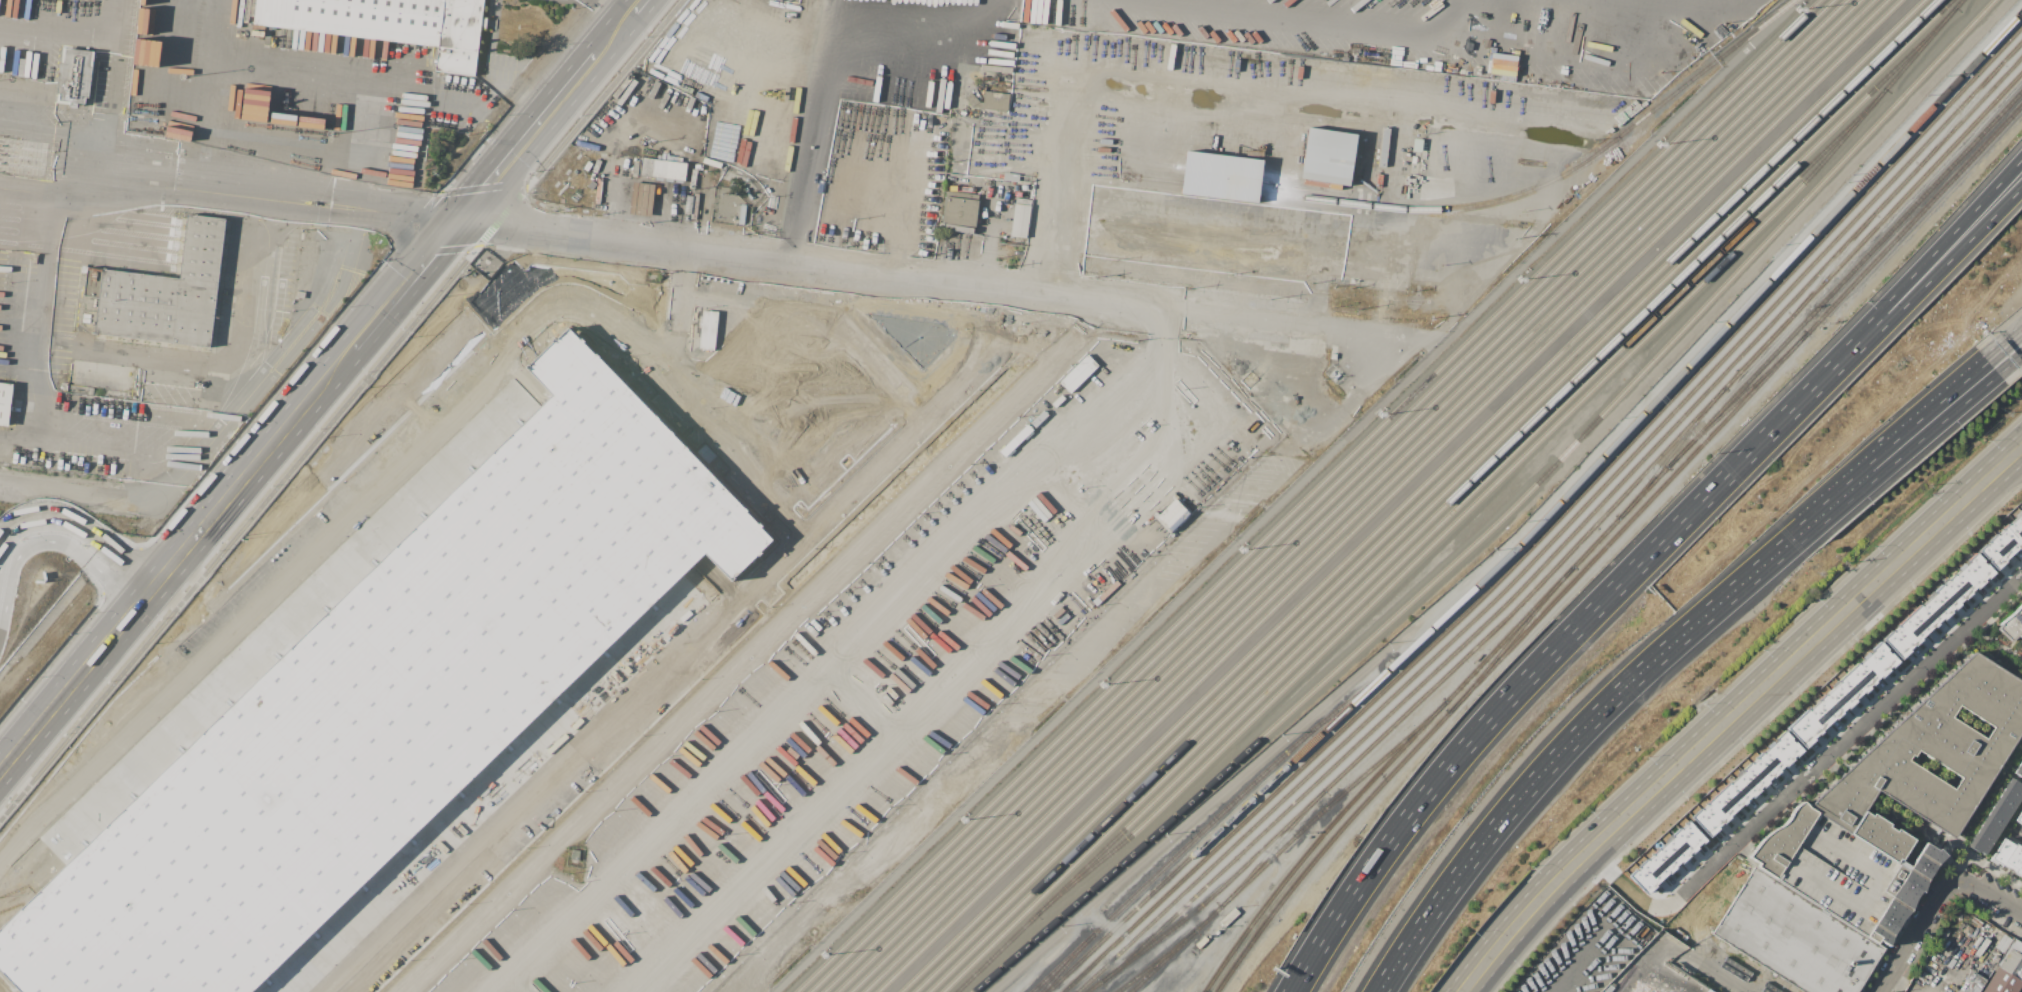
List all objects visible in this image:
road: (614, 9)
building: (357, 18)
road: (616, 30)
road: (55, 31)
road: (1068, 34)
building: (459, 36)
building: (75, 75)
road: (288, 76)
road: (817, 81)
road: (1709, 84)
road: (1275, 86)
road: (519, 87)
road: (606, 90)
road: (1679, 97)
building: (989, 101)
road: (1642, 115)
road: (48, 133)
road: (527, 136)
building: (1327, 156)
building: (663, 168)
building: (1220, 176)
building: (1011, 177)
road: (1062, 179)
road: (158, 180)
road: (485, 186)
road: (642, 194)
building: (642, 198)
railway: (1495, 199)
road: (615, 205)
road: (391, 206)
building: (960, 208)
road: (668, 210)
road: (799, 210)
traffic signals: (467, 214)
road: (503, 214)
railway: (1913, 217)
building: (1020, 220)
road: (412, 222)
road: (77, 232)
road: (430, 251)
road: (896, 271)
railway: (1844, 277)
road: (1904, 281)
building: (165, 293)
road: (1908, 300)
road: (391, 301)
road: (673, 328)
road: (828, 328)
building: (707, 329)
road: (1385, 332)
road: (2004, 345)
road: (2009, 363)
road: (816, 372)
building: (1077, 373)
road: (772, 383)
parking lot: (781, 399)
railway: (1736, 399)
building: (5, 402)
road: (736, 405)
road: (1929, 414)
road: (228, 421)
road: (1935, 421)
railway: (1710, 434)
road: (713, 439)
road: (836, 451)
railway: (1671, 453)
railway: (1509, 467)
road: (239, 480)
railway: (1642, 492)
railway: (1306, 495)
railway: (1346, 495)
railway: (1373, 495)
railway: (1387, 495)
railway: (1423, 495)
railway: (1437, 495)
railway: (1320, 496)
railway: (1333, 496)
railway: (1360, 496)
road: (1399, 496)
railway: (1410, 496)
road: (1838, 498)
railway: (1448, 499)
railway: (1547, 514)
building: (1171, 515)
railway: (1500, 516)
railway: (1555, 522)
railway: (1561, 531)
railway: (1574, 531)
road: (238, 533)
road: (73, 538)
road: (314, 540)
railway: (1420, 540)
railway: (1595, 542)
building: (2003, 542)
railway: (1571, 550)
road: (1197, 581)
building: (1936, 605)
road: (185, 609)
railway: (1531, 623)
building: (2013, 624)
railway: (1514, 627)
railway: (1510, 639)
road: (1995, 645)
road: (690, 649)
road: (841, 651)
road: (82, 670)
road: (1519, 684)
road: (946, 689)
building: (1841, 694)
building: (386, 700)
road: (1734, 712)
road: (1568, 741)
road: (1843, 750)
building: (1916, 766)
building: (2020, 769)
building: (1745, 784)
railway: (1318, 812)
road: (1982, 814)
building: (1997, 818)
building: (2020, 820)
railway: (1208, 826)
road: (2017, 832)
railway: (1321, 833)
railway: (1324, 846)
railway: (1272, 848)
building: (1665, 857)
building: (2010, 857)
building: (1839, 873)
parking lot: (1839, 873)
building: (1906, 893)
road: (1990, 897)
road: (1915, 934)
building: (1796, 936)
road: (1902, 939)
building: (2003, 943)
road: (1648, 954)
road: (1585, 956)
railway: (1160, 959)
building: (2012, 960)
railway: (1155, 961)
railway: (1068, 962)
road: (1720, 975)
building: (2002, 982)
building: (1972, 983)
road: (517, 984)
parking lot: (3, 988)
building: (1704, 991)
building: (1708, 991)

